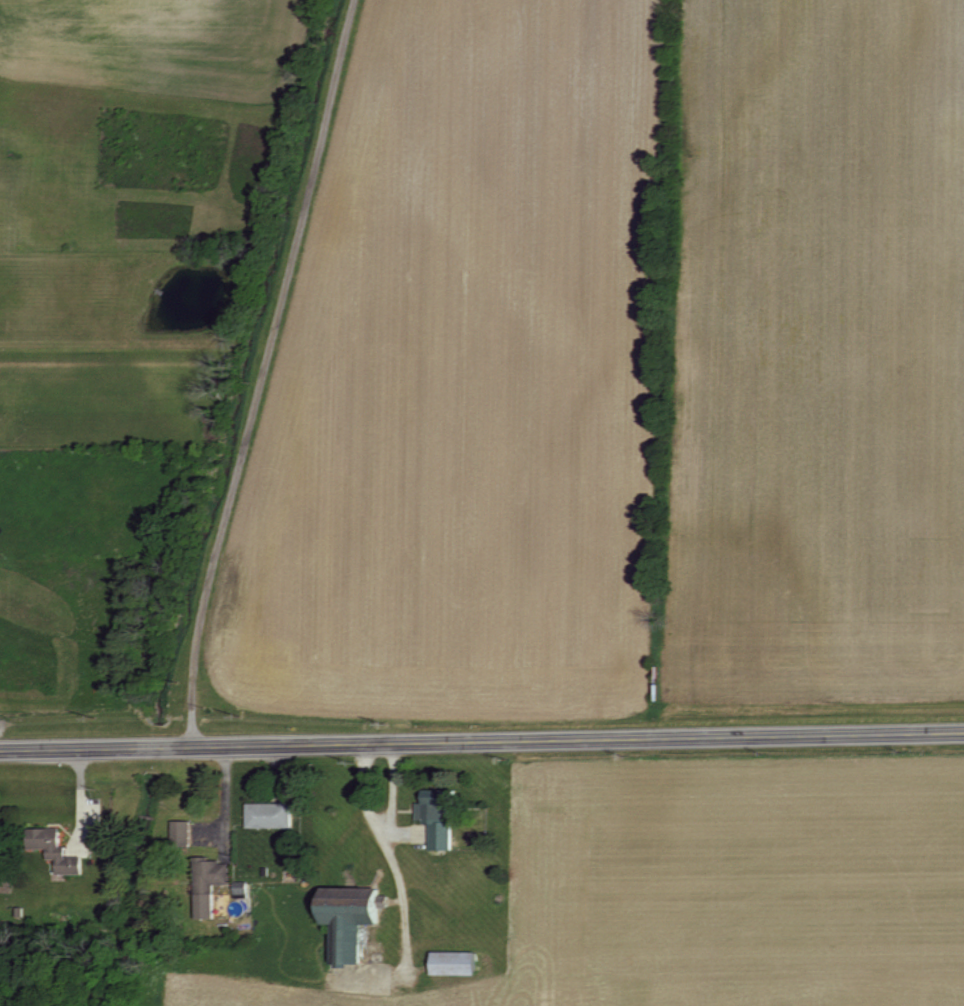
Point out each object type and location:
road: (258, 372)
road: (482, 741)
road: (226, 798)
road: (81, 799)
building: (272, 815)
building: (442, 817)
building: (184, 832)
building: (59, 850)
building: (213, 886)
building: (244, 893)
building: (362, 927)
building: (459, 964)

